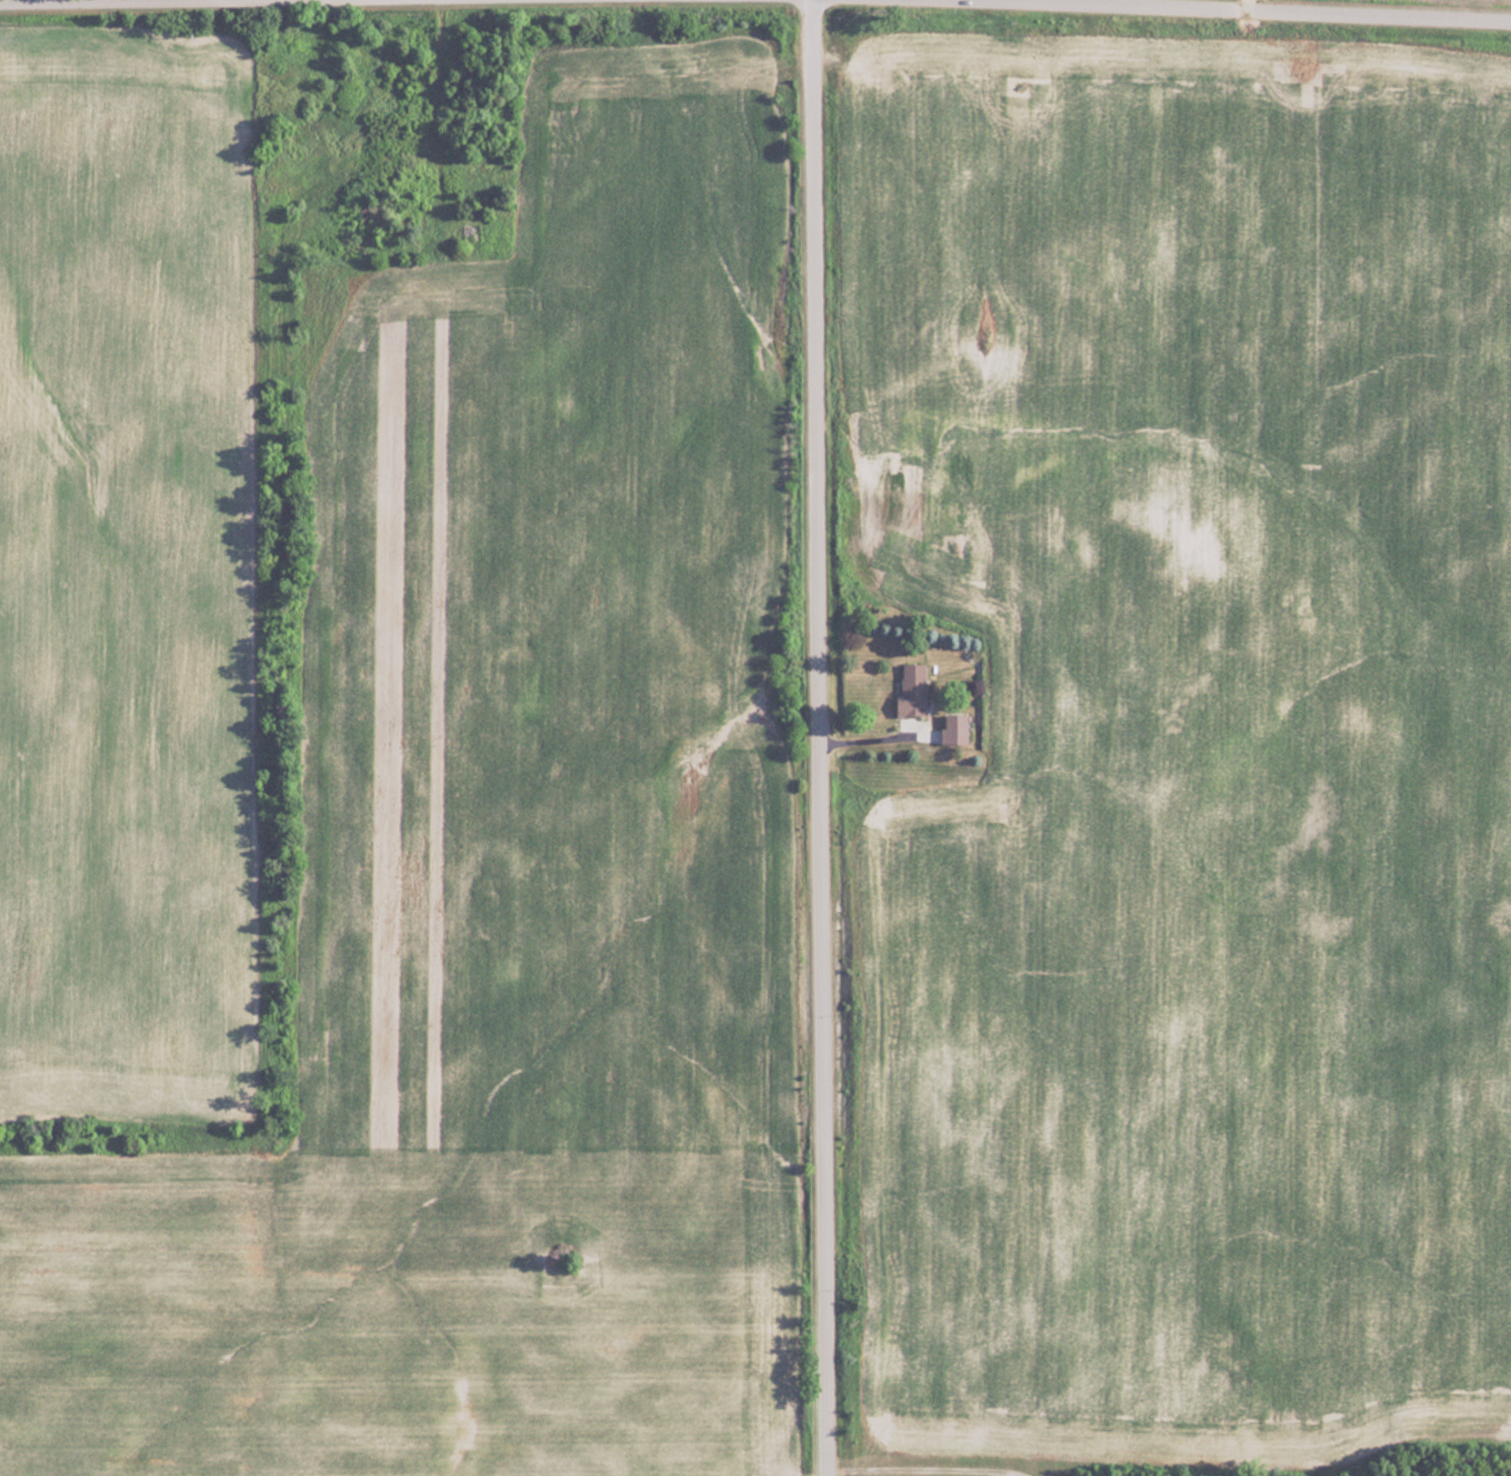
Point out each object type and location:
road: (221, 3)
road: (1186, 13)
building: (913, 688)
building: (956, 727)
road: (820, 738)

